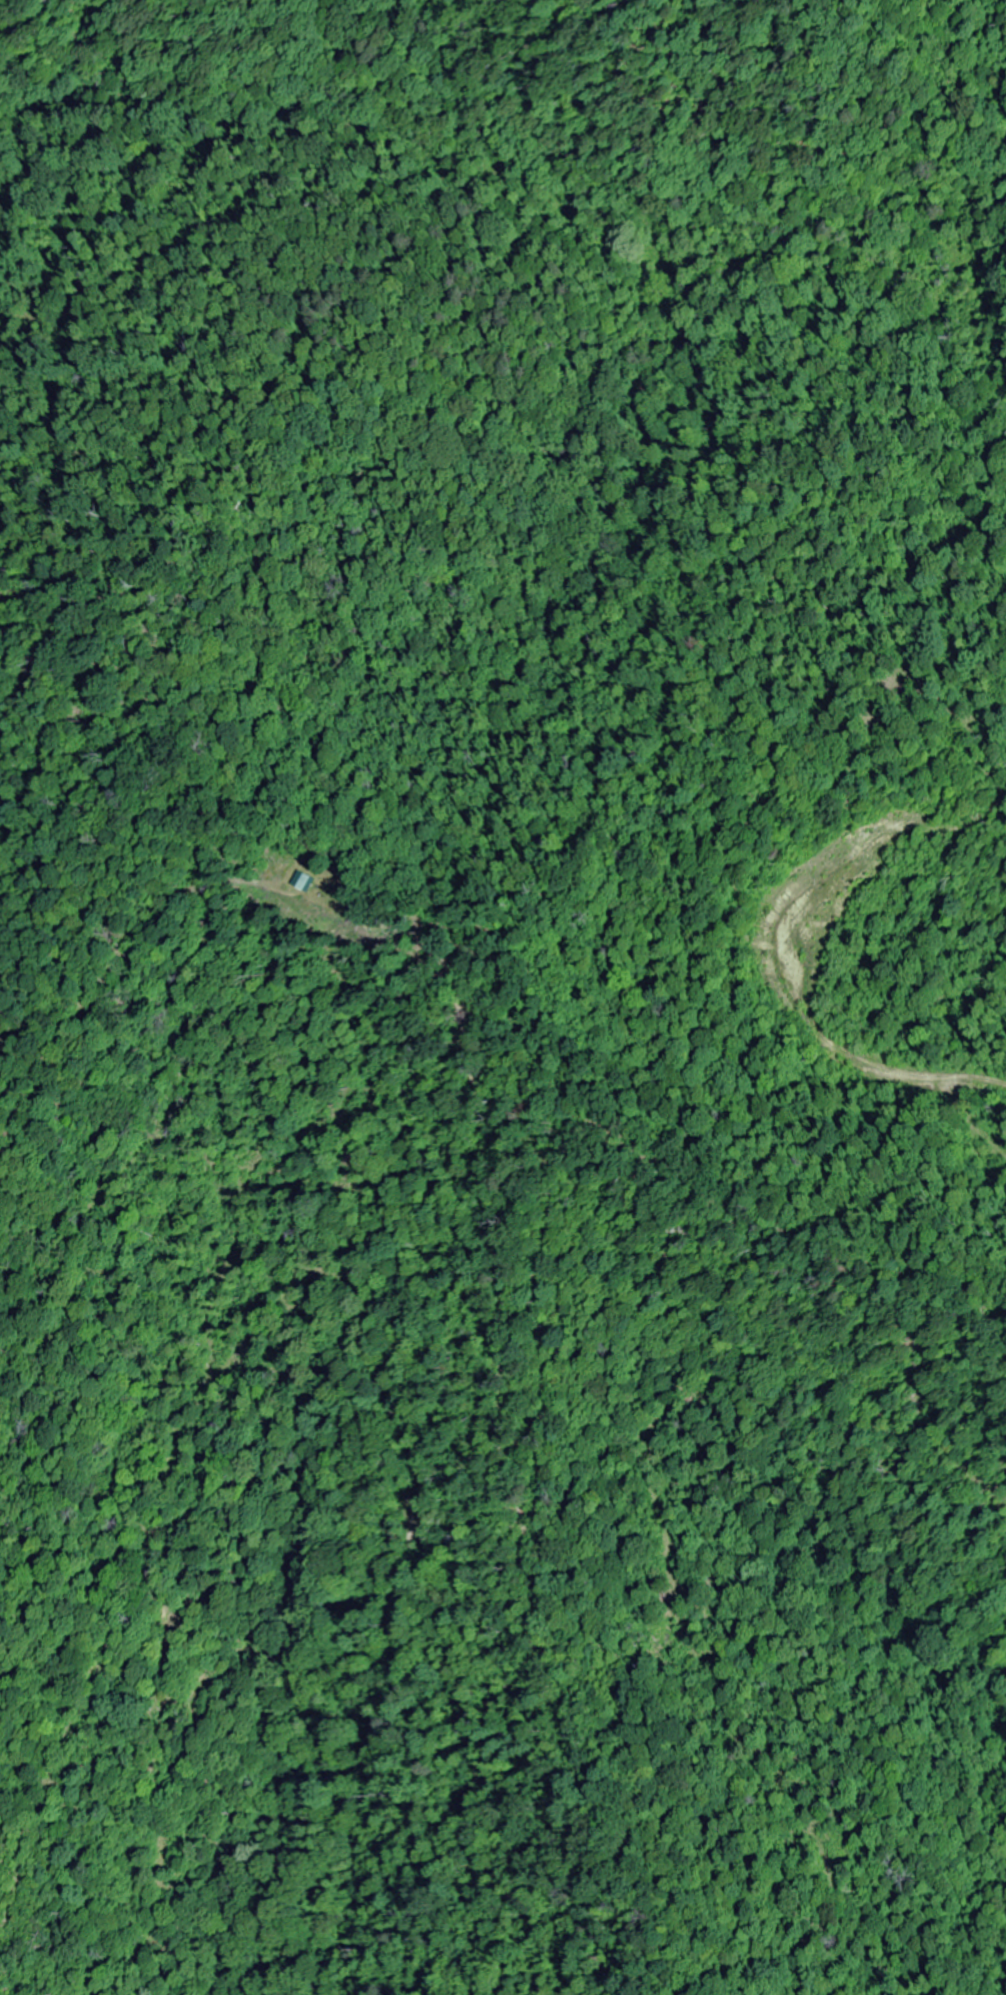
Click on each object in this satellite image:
road: (864, 364)

